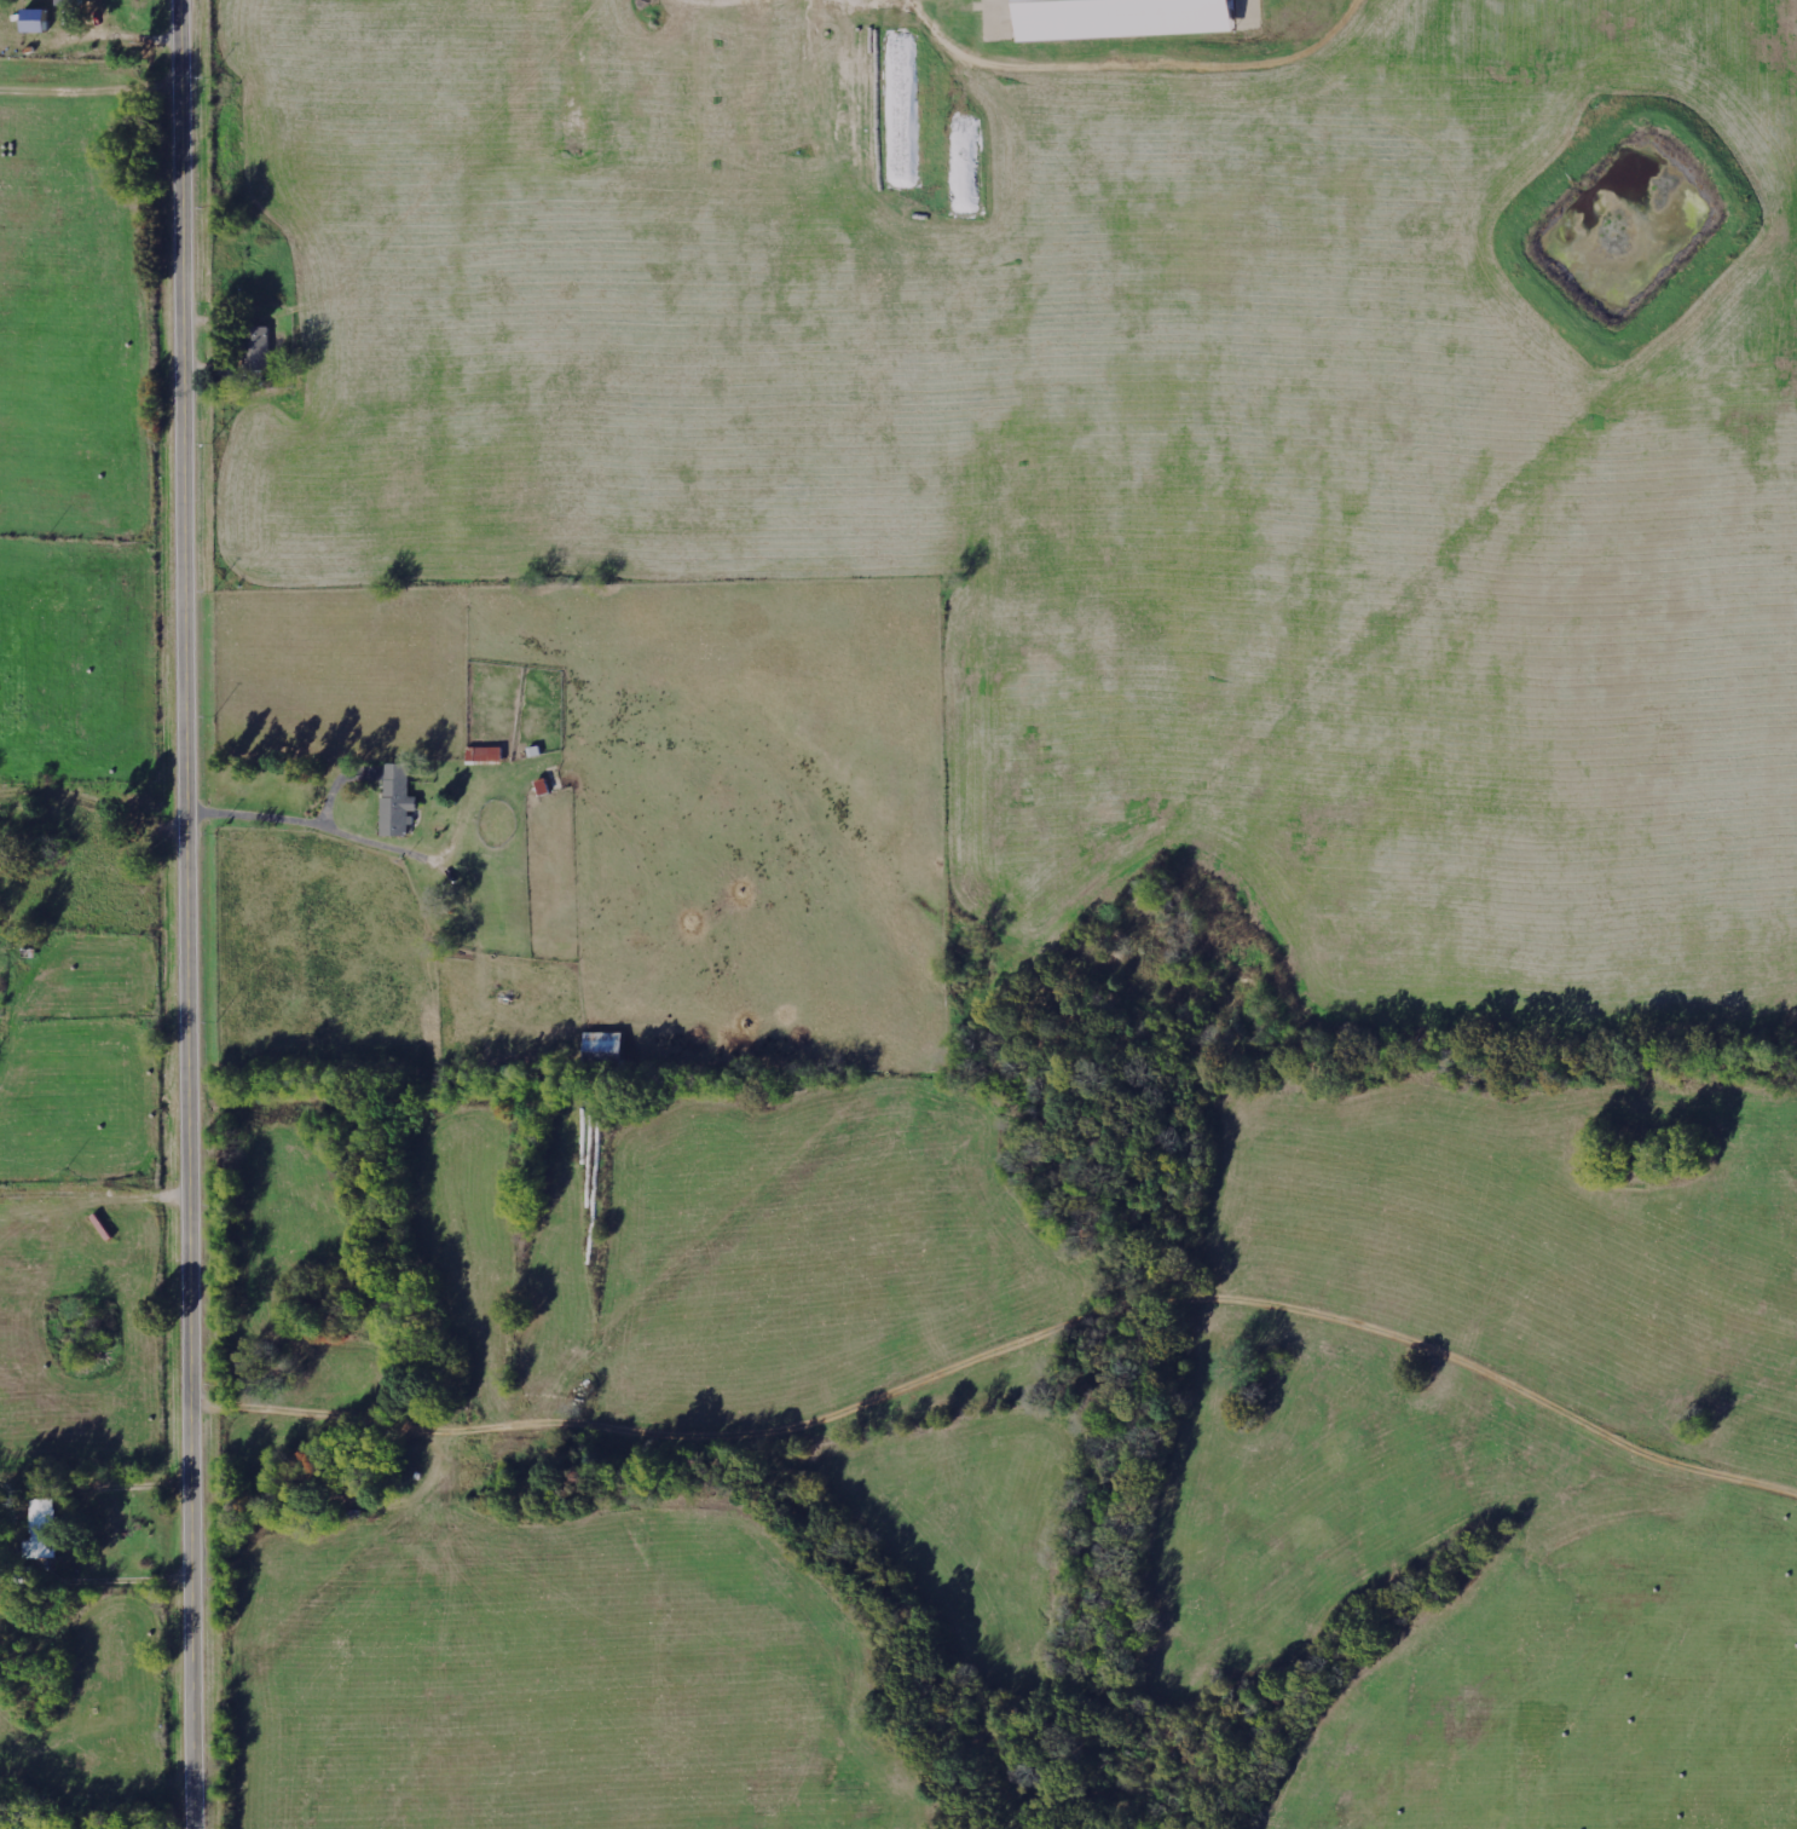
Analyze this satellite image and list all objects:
building: (71, 2)
building: (1129, 18)
building: (39, 21)
building: (260, 341)
road: (94, 618)
building: (400, 800)
road: (192, 914)
building: (609, 1045)
building: (48, 1528)

